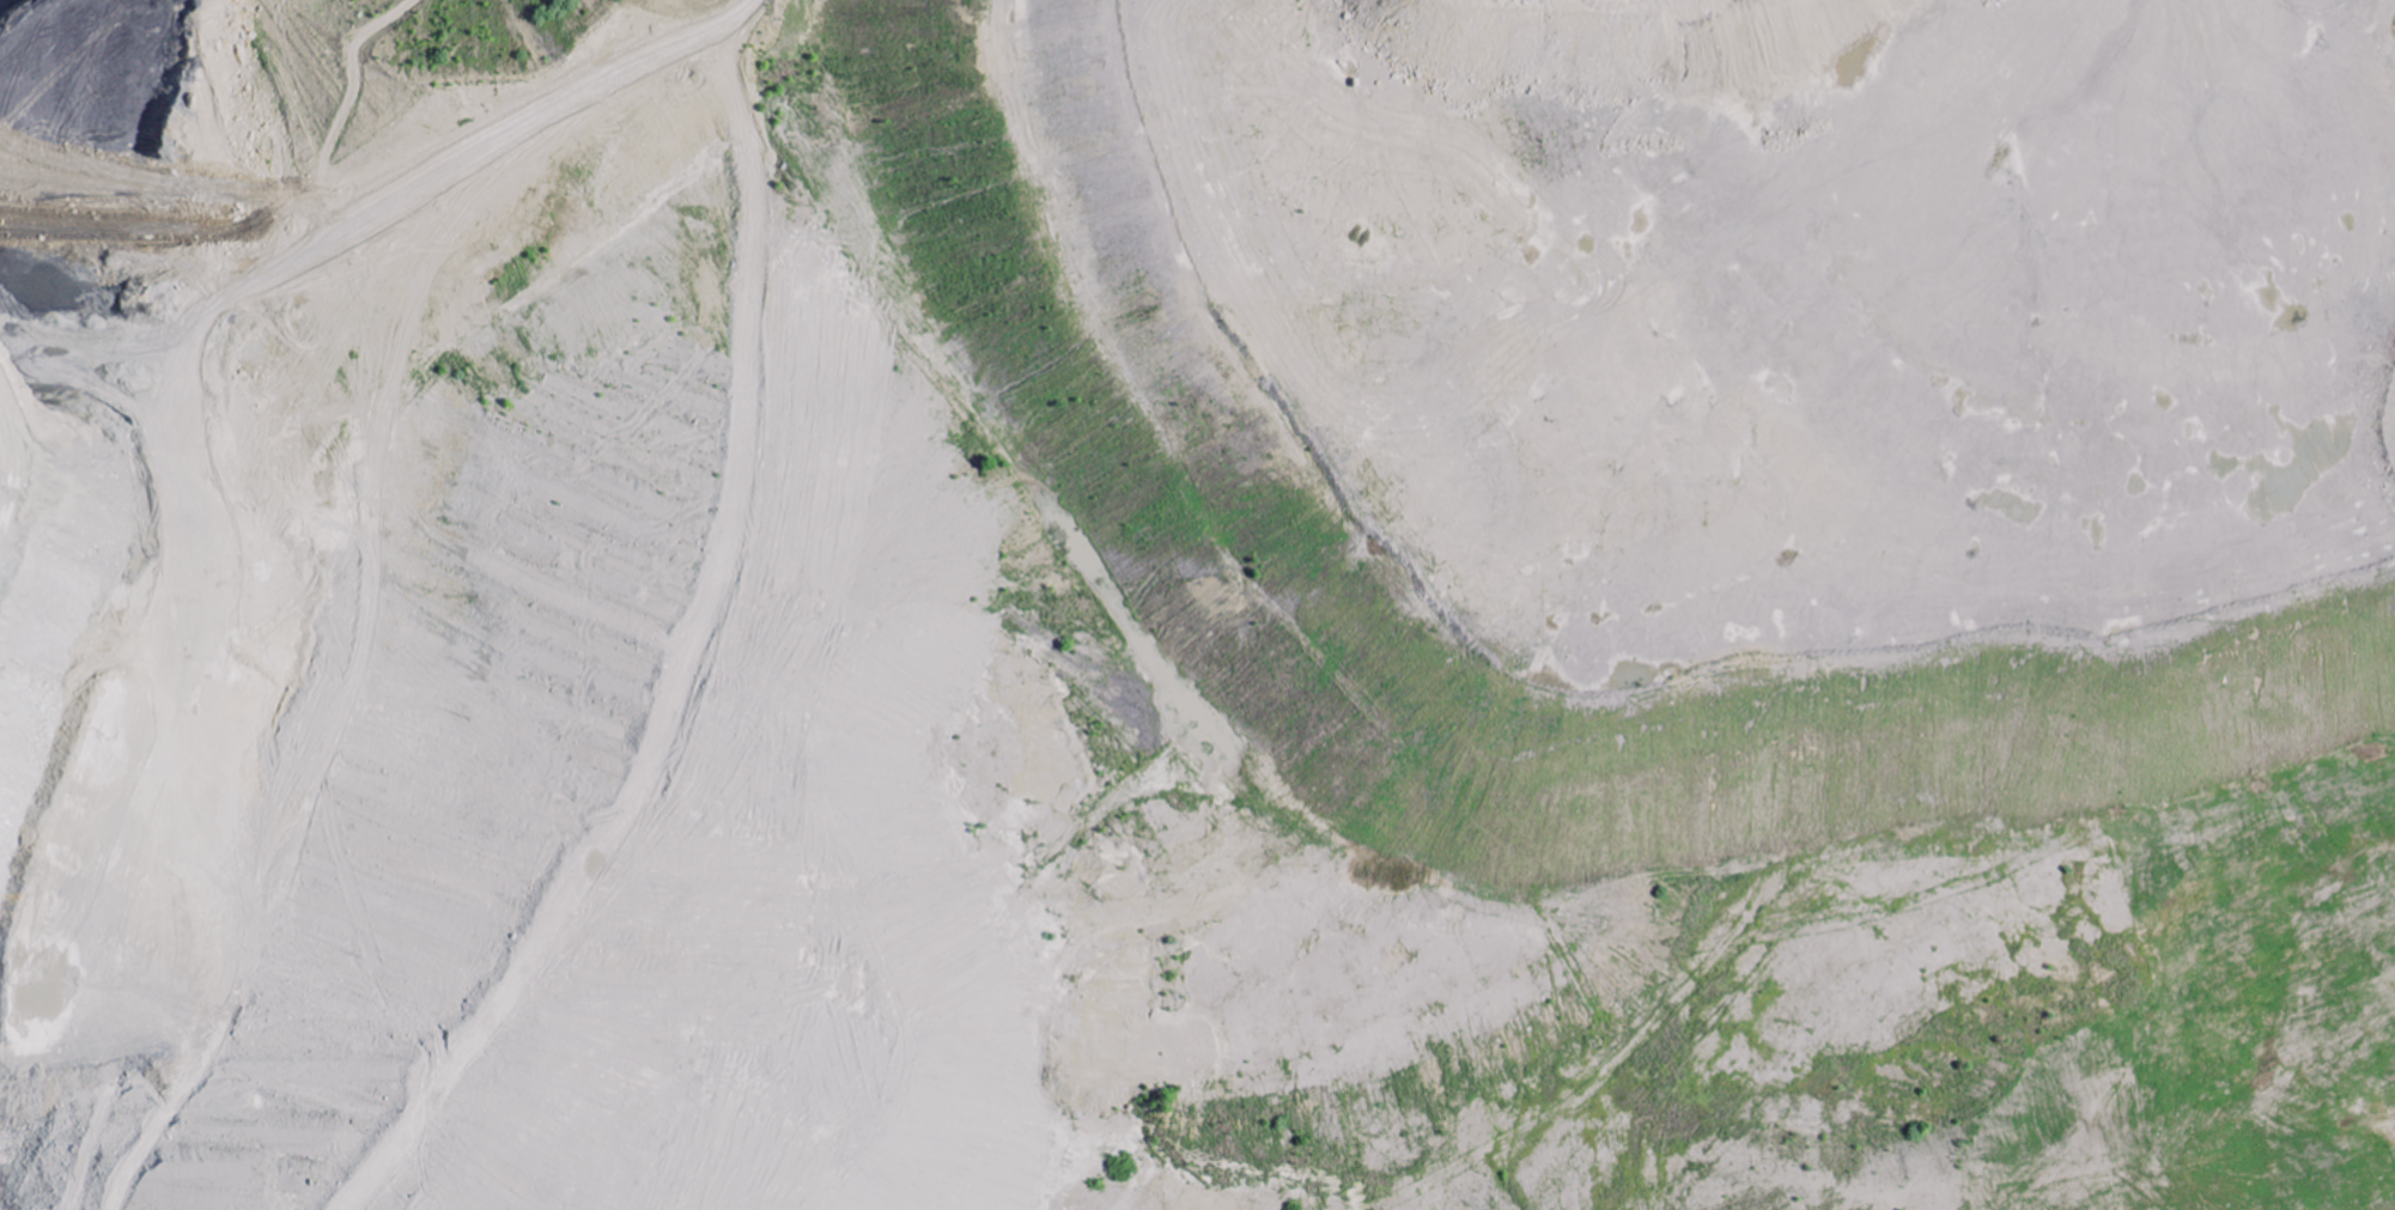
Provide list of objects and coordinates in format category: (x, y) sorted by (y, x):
quarry: (1197, 604)

